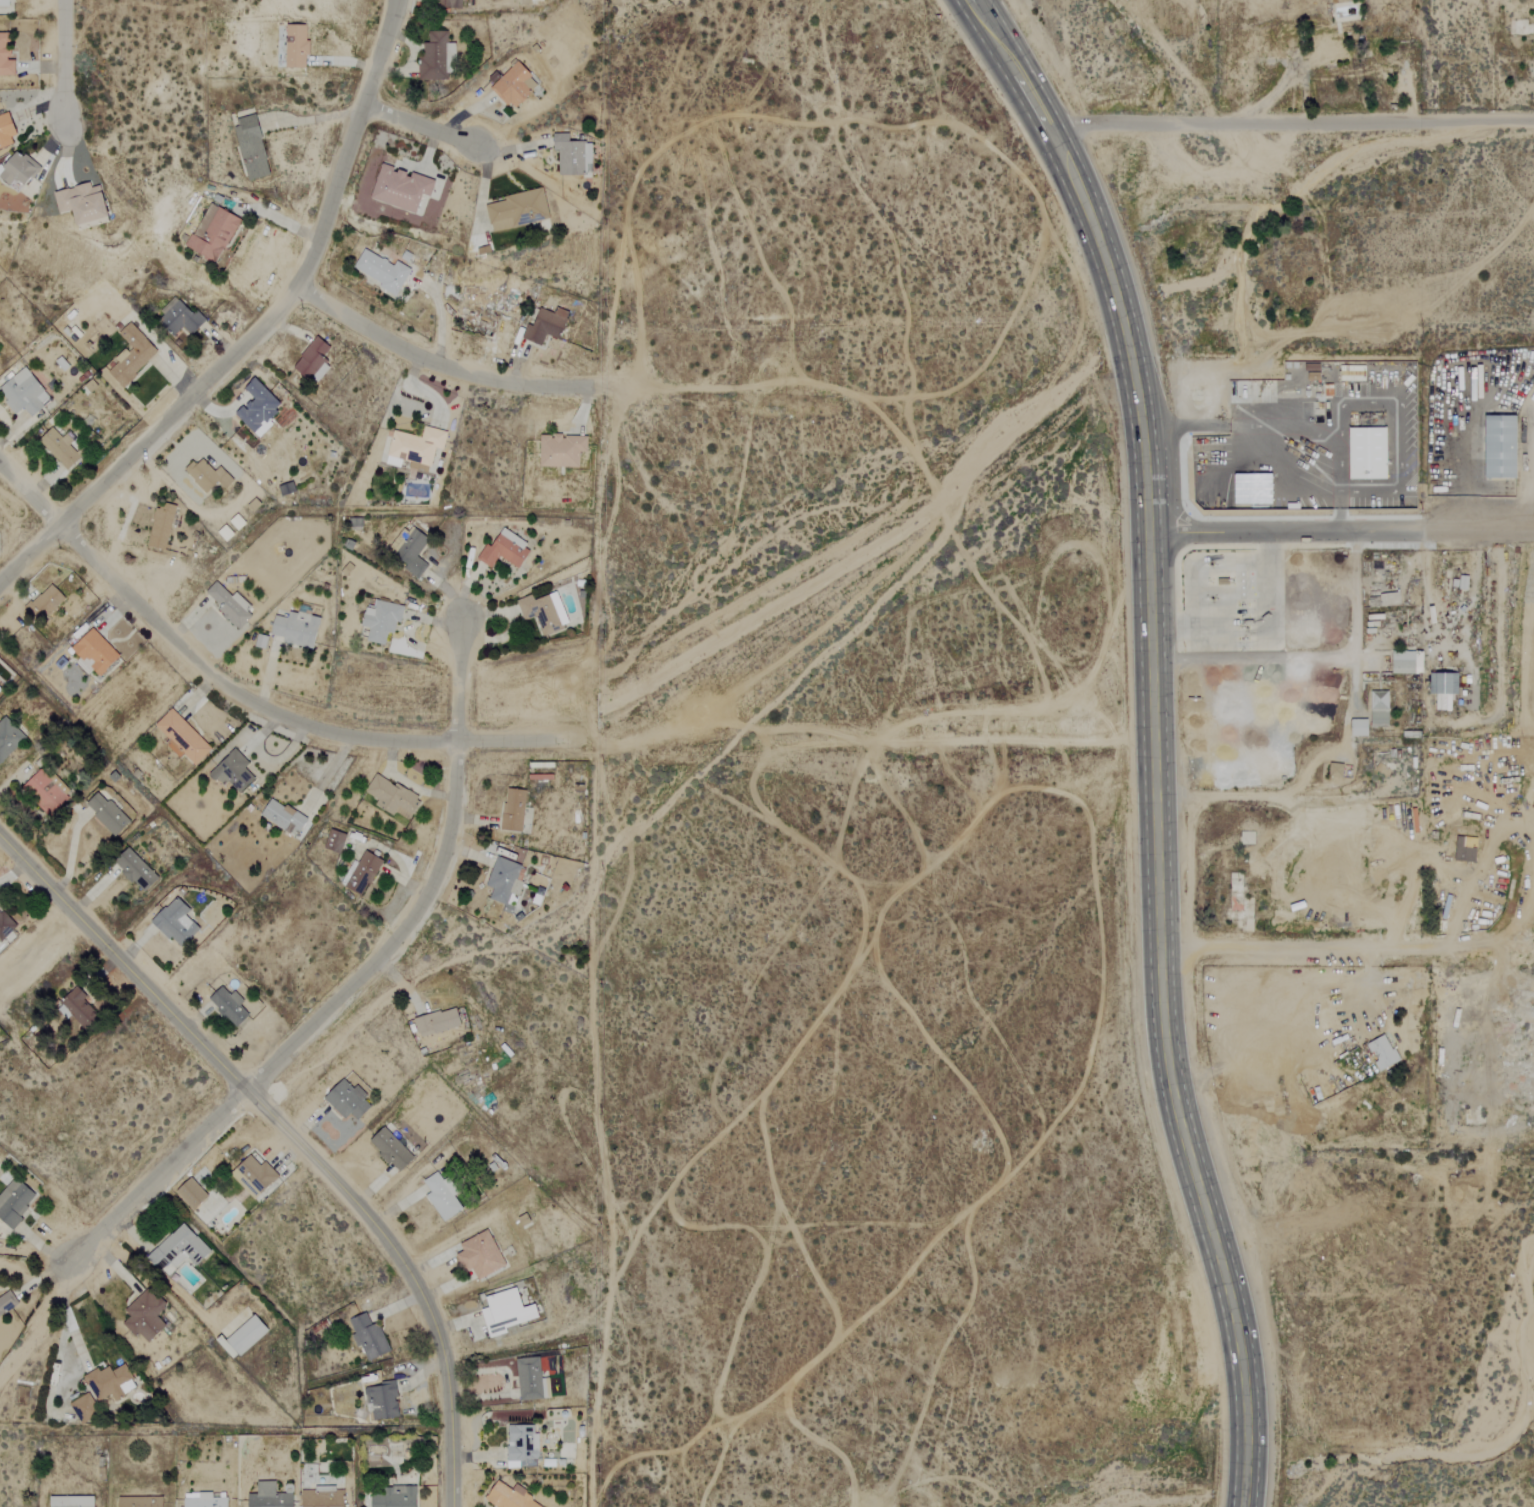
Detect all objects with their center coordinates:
building: (7, 3)
building: (450, 3)
building: (296, 46)
building: (1328, 51)
building: (6, 56)
building: (437, 56)
road: (63, 60)
building: (515, 86)
road: (1289, 119)
road: (420, 126)
building: (6, 130)
road: (348, 145)
building: (252, 148)
building: (573, 156)
building: (18, 170)
building: (401, 189)
building: (83, 203)
building: (518, 210)
building: (213, 233)
building: (381, 272)
building: (184, 318)
building: (546, 326)
building: (131, 356)
building: (314, 360)
road: (430, 361)
building: (24, 394)
road: (1394, 406)
building: (259, 408)
road: (146, 431)
building: (417, 446)
road: (1251, 447)
building: (59, 448)
building: (1503, 448)
building: (562, 451)
road: (1140, 451)
building: (1369, 454)
road: (1464, 468)
building: (208, 476)
building: (287, 489)
building: (1253, 489)
road: (1337, 510)
building: (162, 526)
road: (1477, 527)
road: (1282, 529)
building: (505, 551)
building: (413, 553)
building: (1221, 582)
building: (1464, 582)
gas station: (1230, 601)
building: (45, 603)
building: (230, 606)
building: (544, 613)
building: (382, 621)
road: (1255, 624)
building: (297, 629)
building: (95, 653)
building: (1408, 663)
building: (1443, 690)
road: (245, 699)
building: (1381, 709)
building: (1361, 727)
building: (9, 737)
building: (182, 738)
road: (1342, 741)
building: (1337, 770)
building: (233, 771)
building: (46, 791)
building: (393, 797)
building: (514, 810)
building: (106, 813)
building: (283, 817)
building: (335, 840)
building: (135, 870)
building: (364, 873)
building: (505, 883)
building: (176, 923)
building: (5, 926)
road: (1345, 940)
road: (346, 987)
building: (229, 1006)
building: (81, 1008)
building: (438, 1022)
building: (1383, 1052)
building: (348, 1100)
road: (293, 1138)
building: (391, 1150)
building: (254, 1176)
building: (192, 1194)
building: (442, 1196)
building: (14, 1202)
road: (1208, 1223)
building: (181, 1248)
building: (482, 1255)
building: (6, 1303)
building: (506, 1312)
road: (66, 1316)
building: (145, 1316)
building: (243, 1337)
building: (369, 1337)
building: (532, 1380)
building: (110, 1382)
building: (383, 1401)
building: (85, 1408)
building: (522, 1445)
building: (269, 1496)
building: (394, 1497)
building: (324, 1498)
building: (511, 1498)
building: (203, 1500)
building: (72, 1501)
building: (141, 1502)

